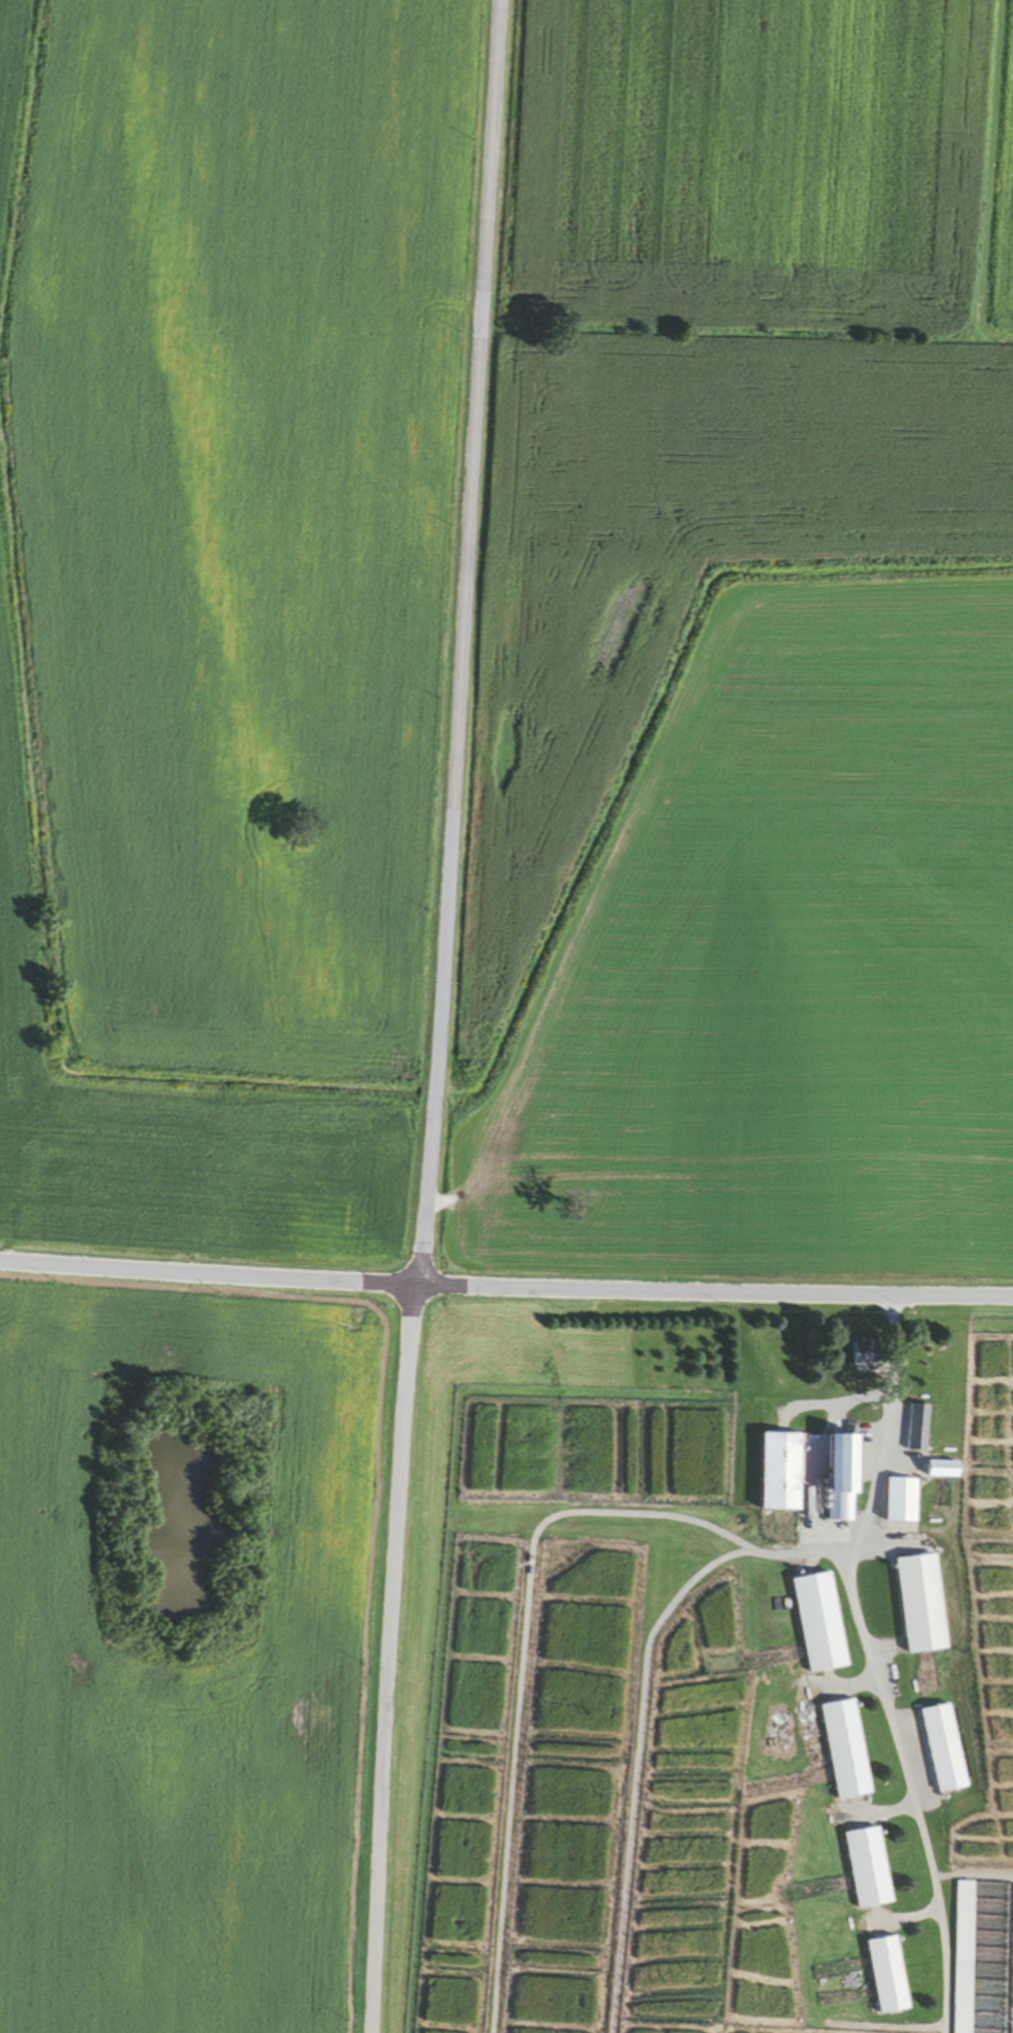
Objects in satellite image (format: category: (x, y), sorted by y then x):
road: (435, 1016)
road: (506, 1287)
building: (869, 1355)
building: (920, 1429)
building: (946, 1471)
building: (781, 1474)
building: (844, 1480)
building: (903, 1503)
road: (858, 1606)
building: (922, 1606)
building: (819, 1625)
building: (845, 1752)
building: (868, 1870)
building: (888, 1977)

